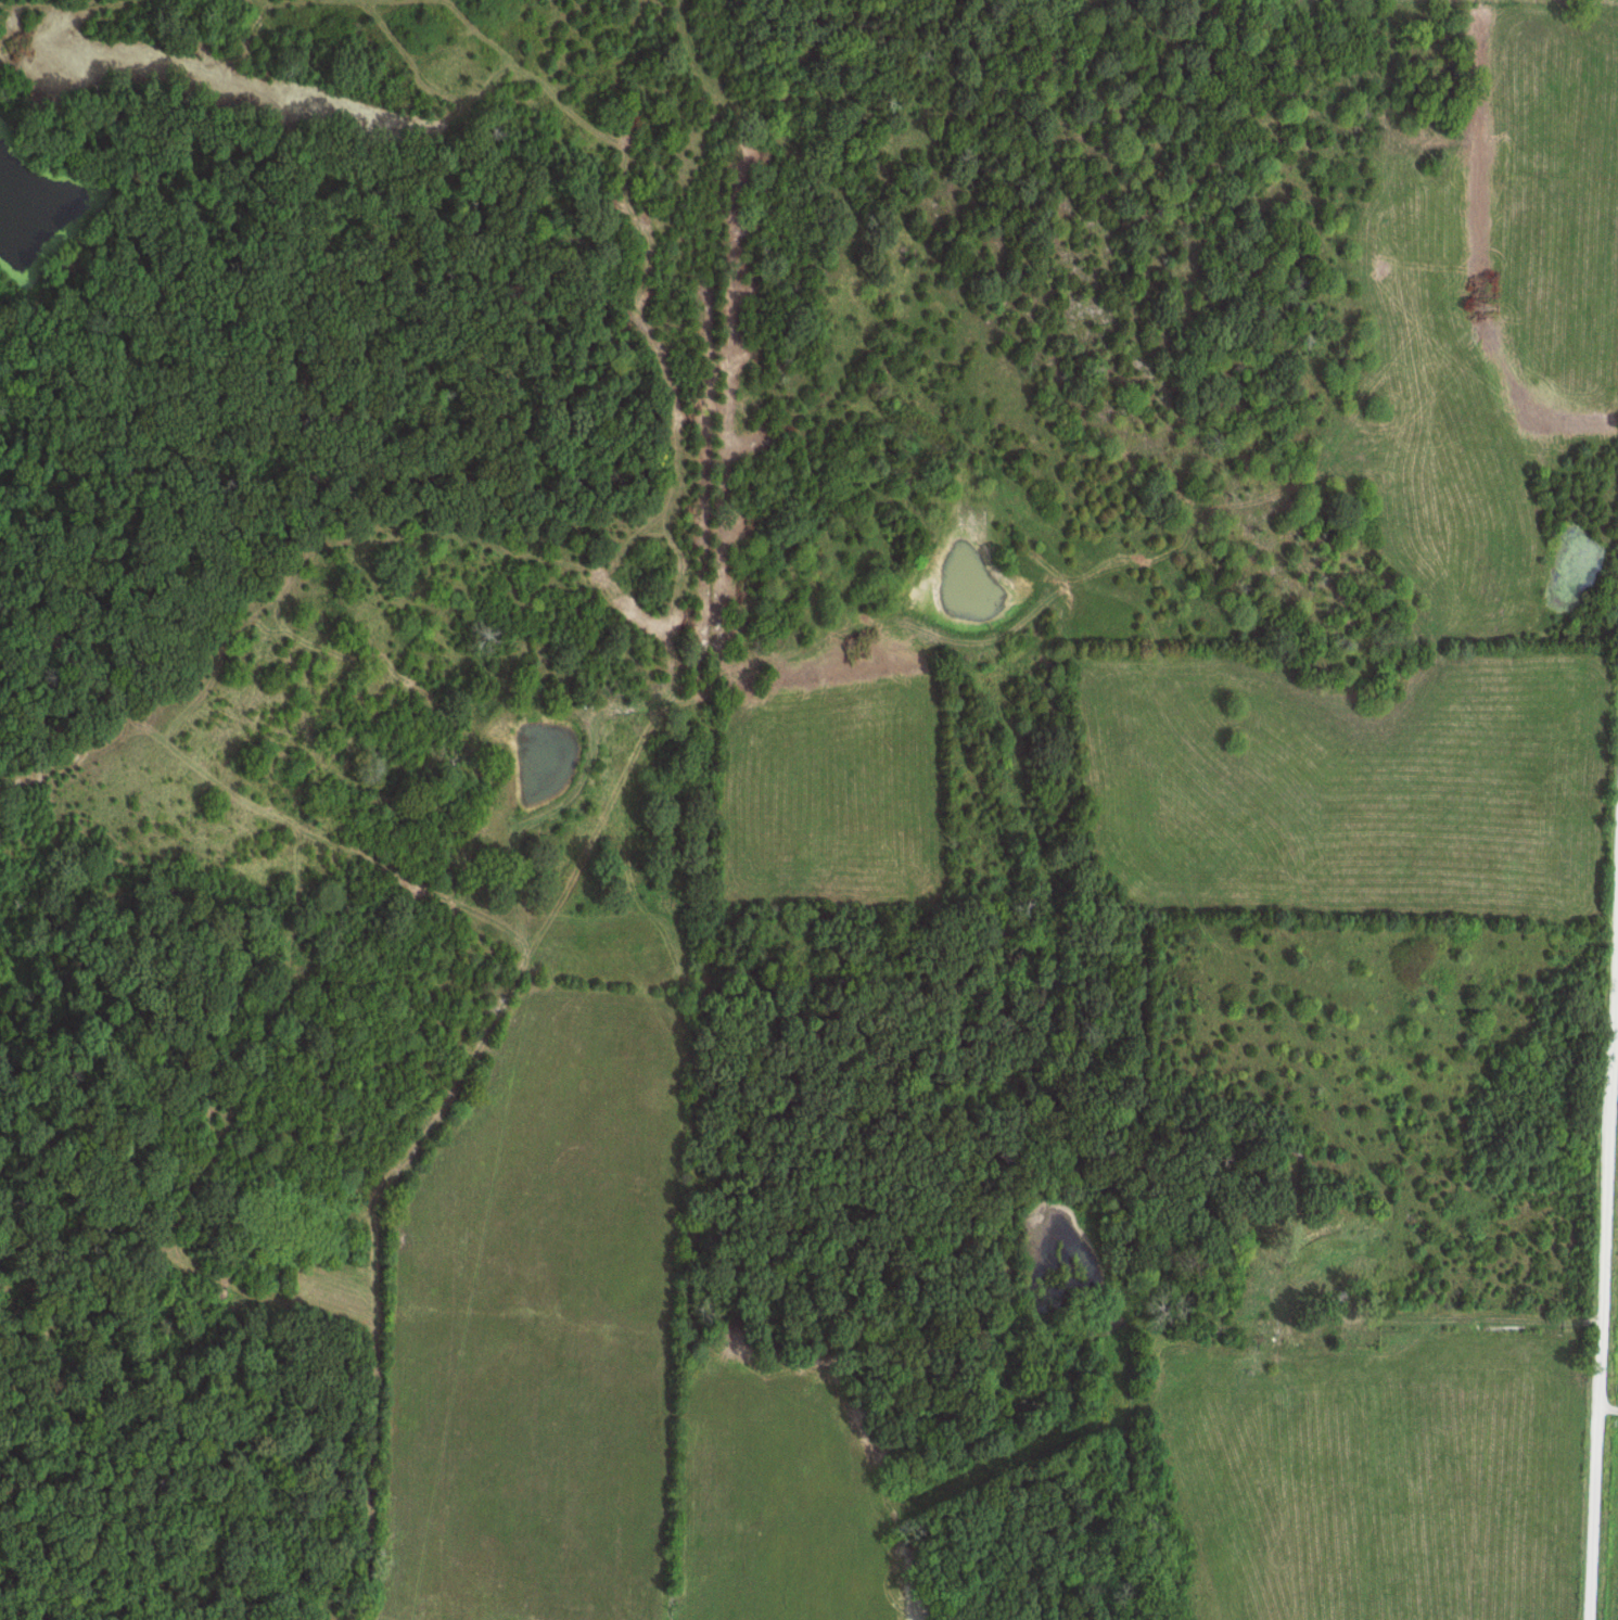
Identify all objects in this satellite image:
building: (1183, 1248)
building: (1292, 1294)
road: (1604, 1341)
road: (1609, 1403)

